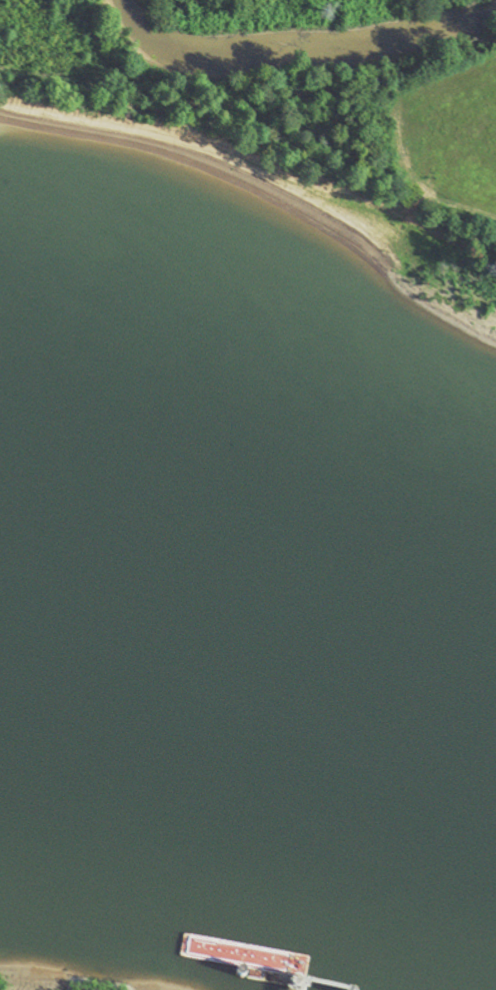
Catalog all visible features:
river: (248, 606)

